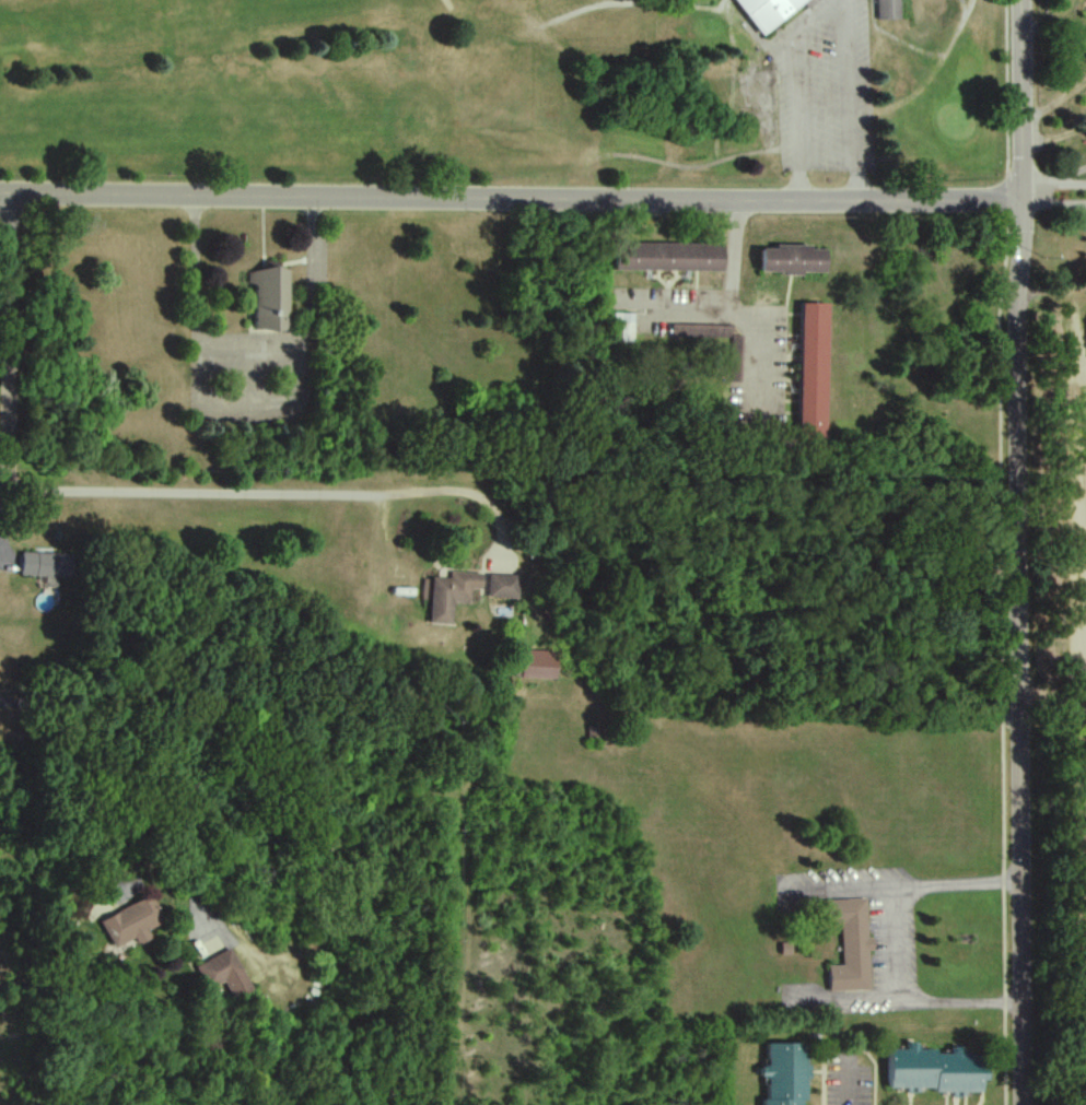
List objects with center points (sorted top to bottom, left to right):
building: (888, 5)
road: (831, 10)
building: (755, 14)
parking lot: (816, 85)
park: (503, 89)
parking lot: (816, 95)
road: (1054, 101)
park: (1060, 103)
road: (1053, 142)
road: (1074, 177)
road: (1052, 186)
road: (511, 197)
road: (1053, 202)
building: (669, 256)
building: (794, 259)
building: (265, 299)
road: (734, 308)
building: (626, 327)
road: (9, 342)
road: (761, 345)
road: (250, 357)
building: (815, 371)
road: (291, 492)
road: (1013, 552)
park: (1056, 563)
building: (47, 564)
building: (504, 586)
building: (453, 593)
building: (539, 668)
road: (119, 787)
road: (86, 815)
building: (131, 925)
building: (850, 944)
road: (894, 948)
building: (220, 969)
building: (934, 1071)
building: (784, 1074)
road: (850, 1084)

